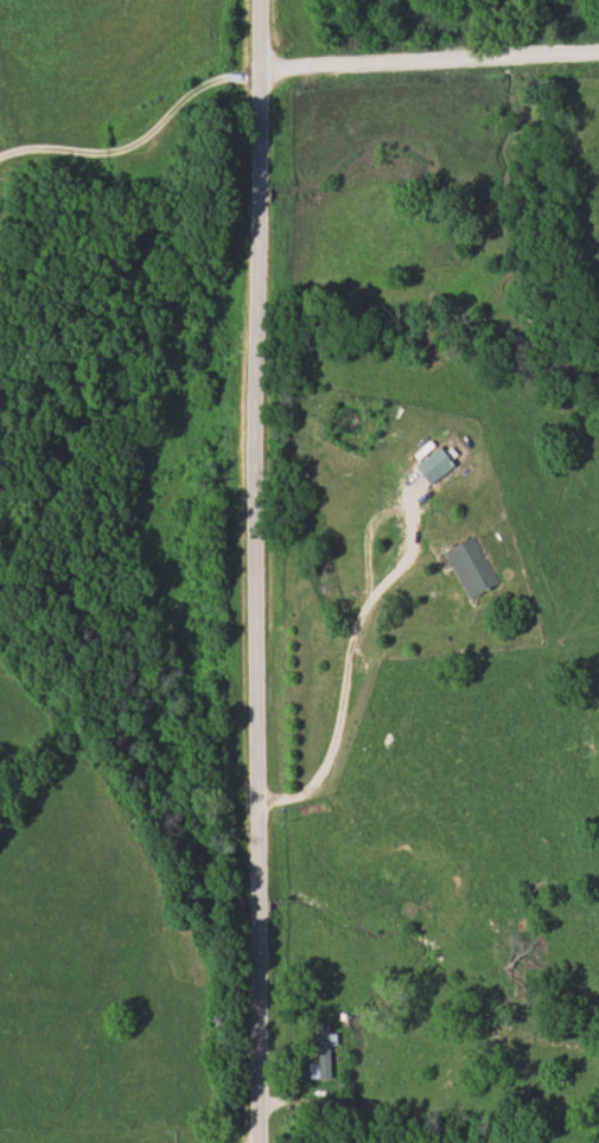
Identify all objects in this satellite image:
road: (432, 63)
road: (142, 141)
building: (432, 465)
building: (467, 567)
road: (255, 570)
road: (349, 653)
building: (319, 1051)

